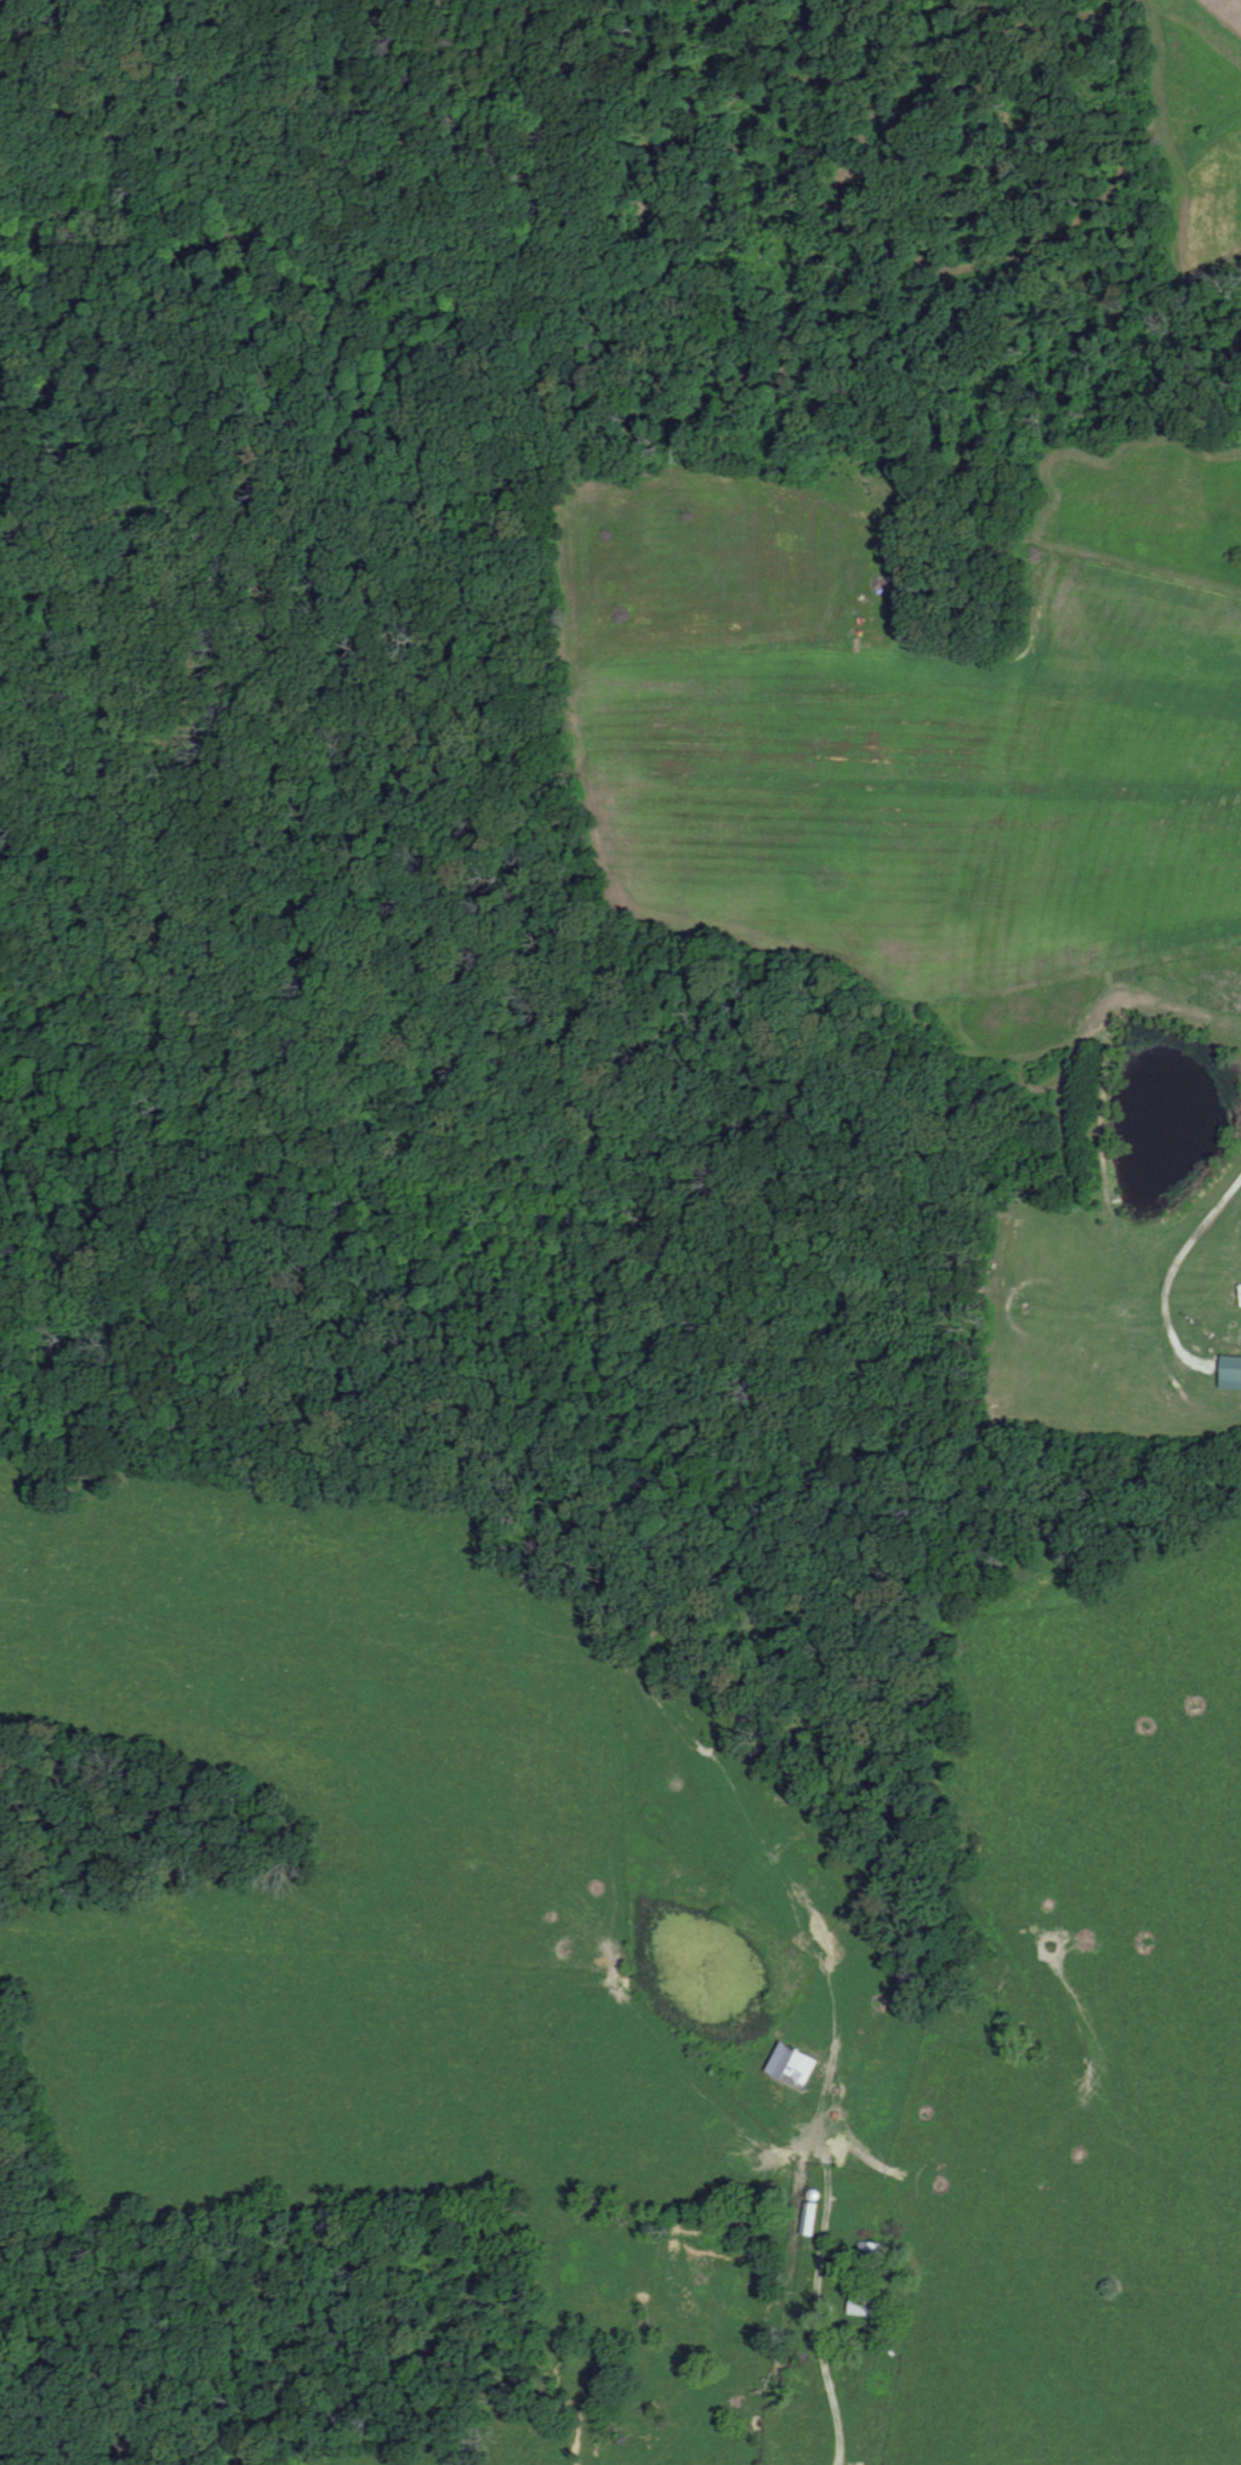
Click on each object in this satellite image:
road: (1171, 1274)
building: (1233, 1374)
building: (799, 2067)
building: (813, 2220)
building: (871, 2251)
building: (867, 2307)
road: (814, 2315)

